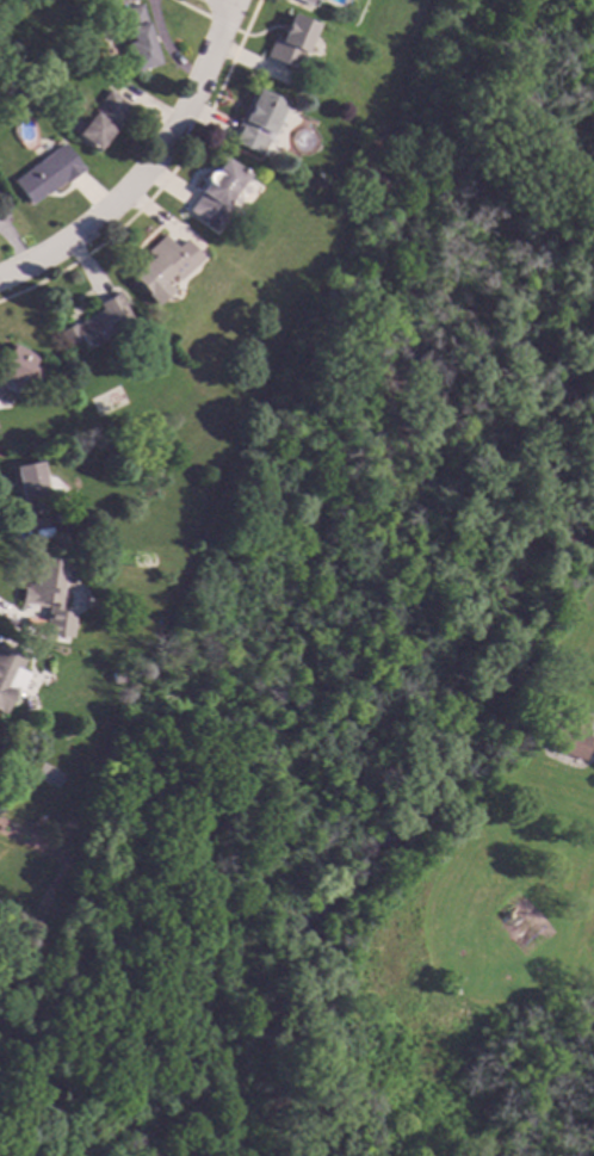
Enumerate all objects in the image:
building: (307, 1)
road: (224, 2)
building: (136, 38)
building: (290, 42)
building: (100, 119)
building: (255, 122)
road: (147, 165)
building: (45, 174)
building: (380, 181)
building: (215, 194)
building: (154, 270)
building: (97, 323)
building: (14, 370)
building: (150, 475)
building: (27, 489)
building: (44, 583)
building: (10, 674)
park: (367, 692)
building: (568, 736)
river: (406, 753)

